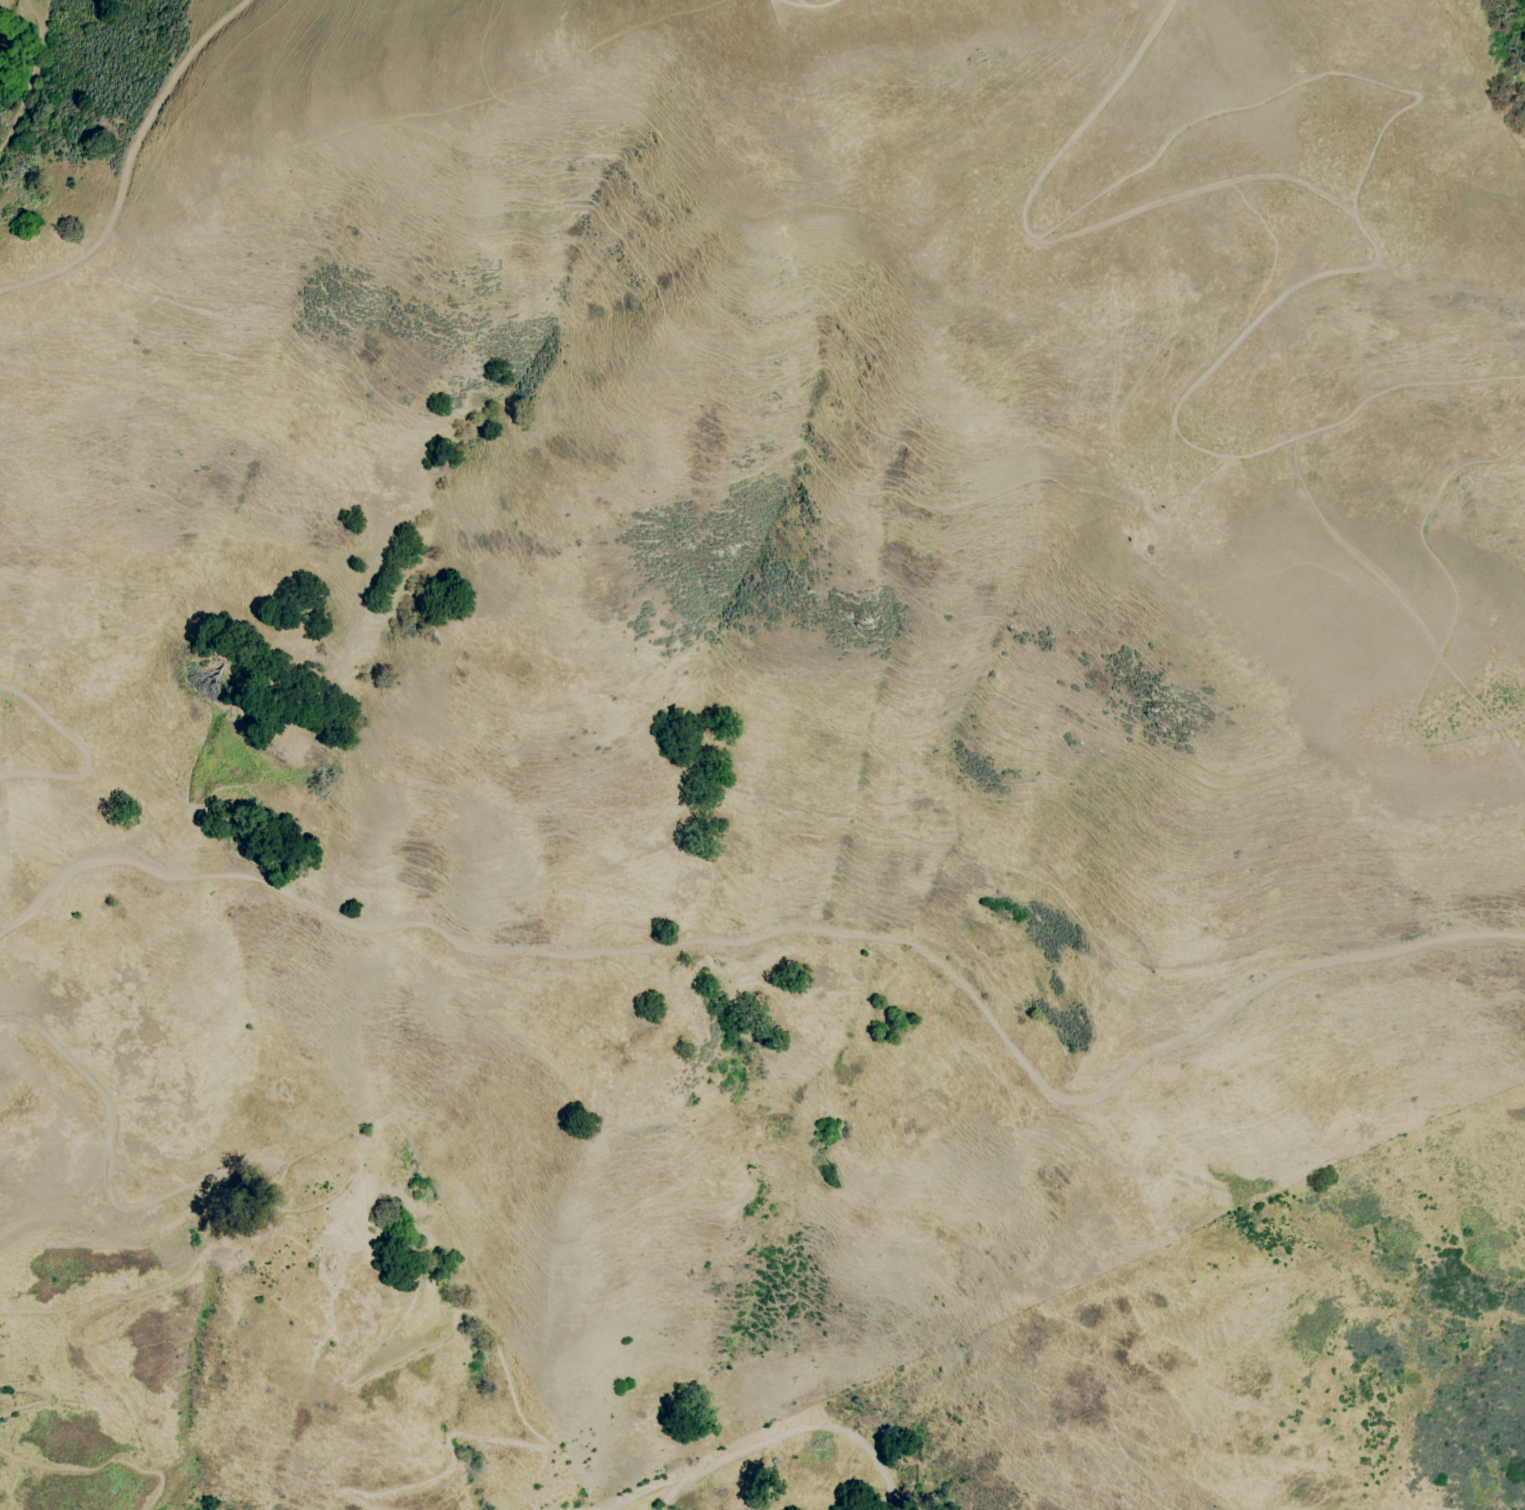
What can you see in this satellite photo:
road: (815, 7)
road: (1378, 143)
road: (131, 159)
road: (1449, 618)
road: (85, 754)
road: (796, 928)
road: (106, 1188)
park: (1293, 1235)
road: (117, 1237)
road: (151, 1289)
road: (452, 1328)
road: (44, 1401)
road: (808, 1433)
road: (112, 1465)
road: (673, 1494)
road: (633, 1496)

